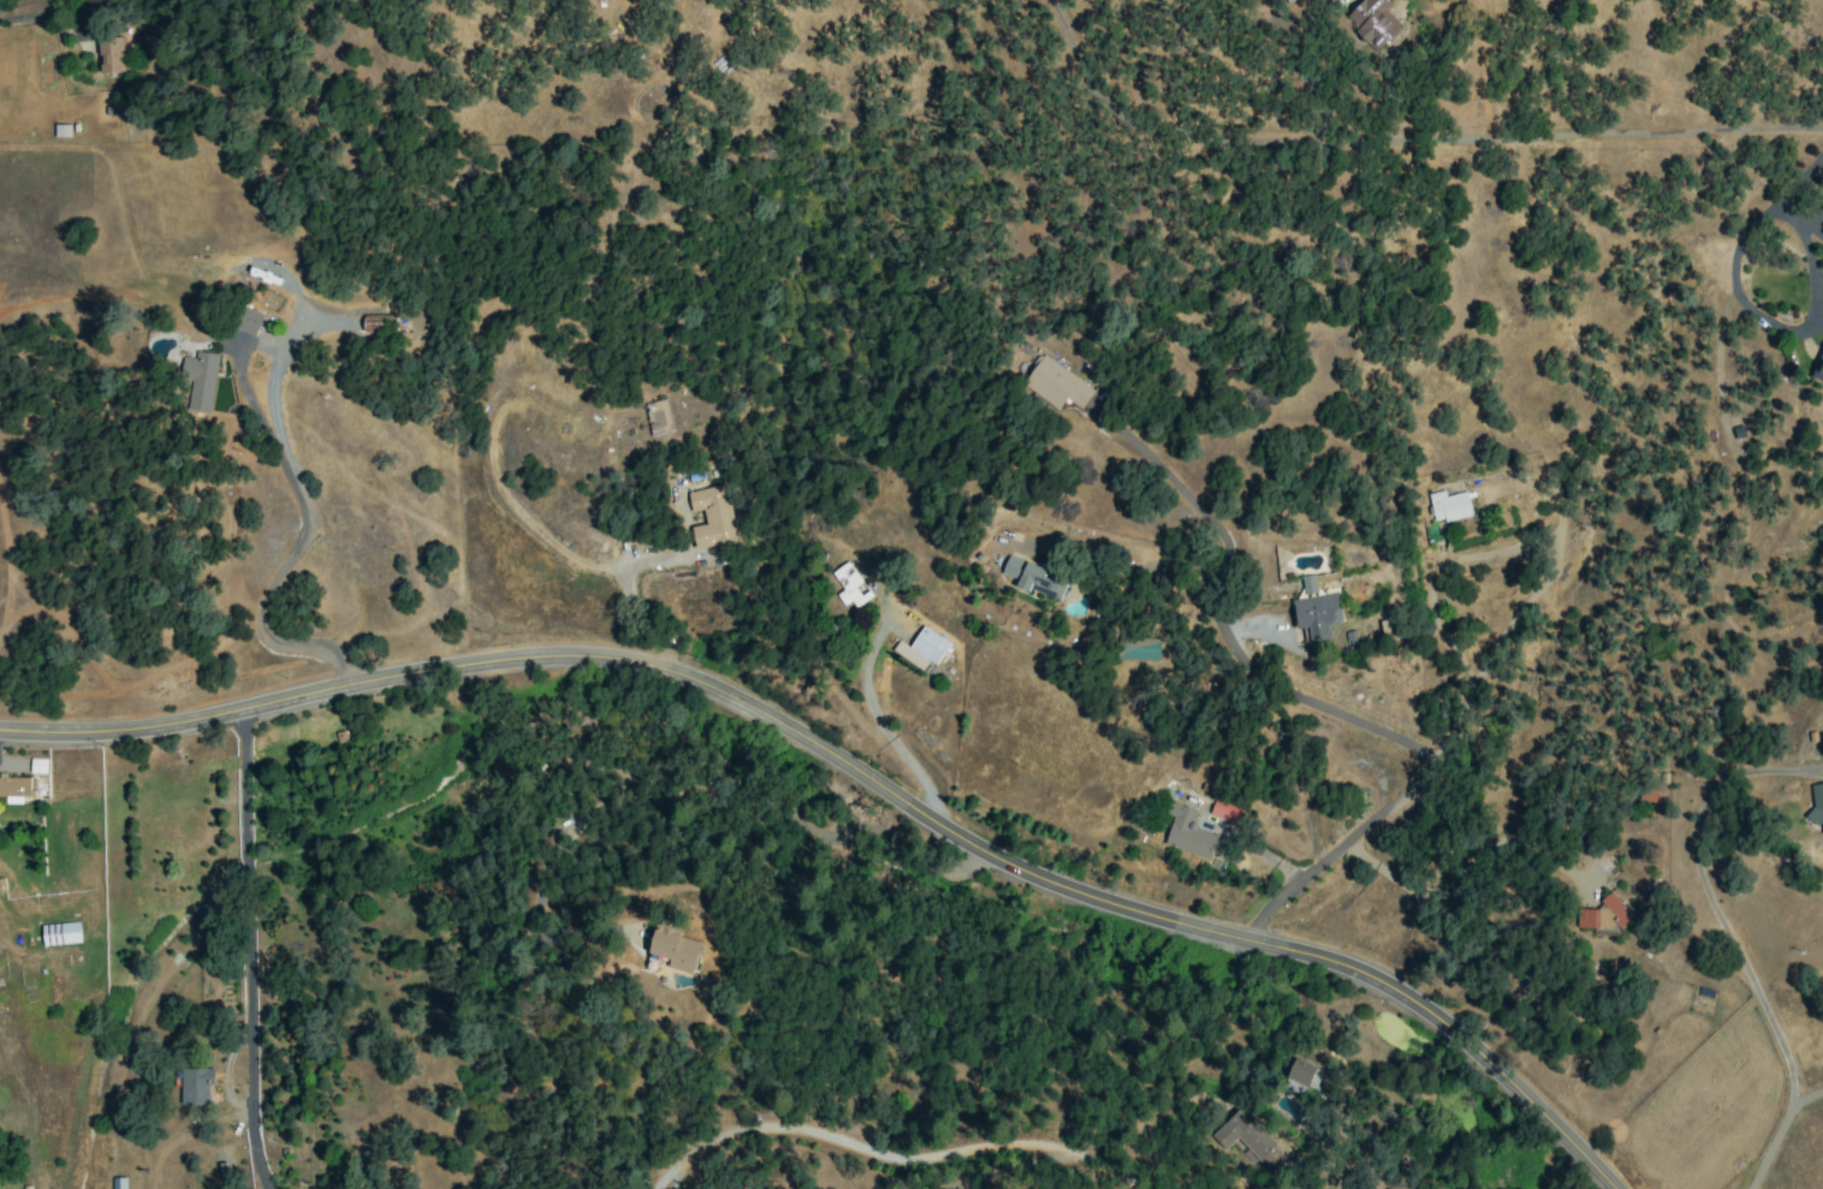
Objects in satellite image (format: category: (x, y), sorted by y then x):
building: (1373, 23)
road: (44, 29)
building: (108, 54)
road: (1405, 139)
road: (1799, 178)
building: (250, 322)
building: (369, 323)
road: (1782, 327)
building: (200, 379)
building: (1055, 385)
building: (658, 417)
road: (1190, 499)
building: (1448, 506)
building: (711, 516)
road: (303, 529)
building: (1034, 578)
building: (850, 585)
building: (1388, 630)
building: (922, 648)
building: (1136, 648)
road: (873, 712)
road: (1420, 751)
building: (37, 766)
road: (857, 767)
road: (673, 778)
building: (14, 789)
building: (1816, 804)
building: (1224, 809)
building: (1186, 832)
building: (1602, 914)
building: (60, 933)
road: (1727, 935)
building: (673, 946)
road: (253, 947)
building: (1302, 1074)
building: (194, 1086)
road: (1803, 1098)
building: (1245, 1139)
road: (892, 1155)
road: (1006, 1167)
building: (118, 1183)

